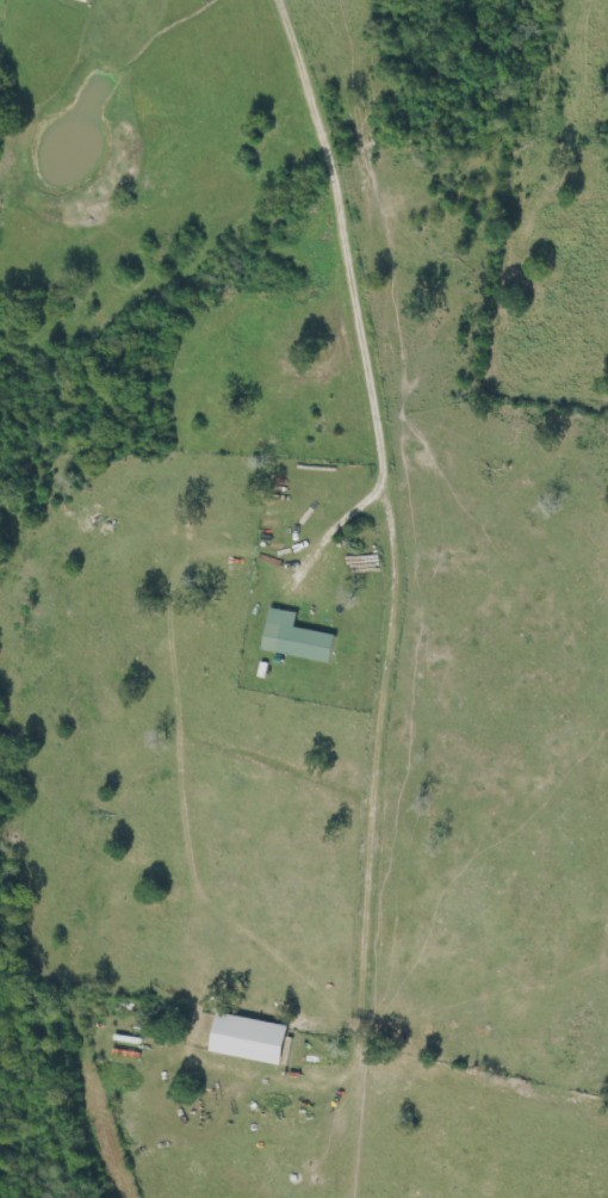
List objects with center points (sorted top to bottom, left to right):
building: (298, 640)
building: (253, 1040)

